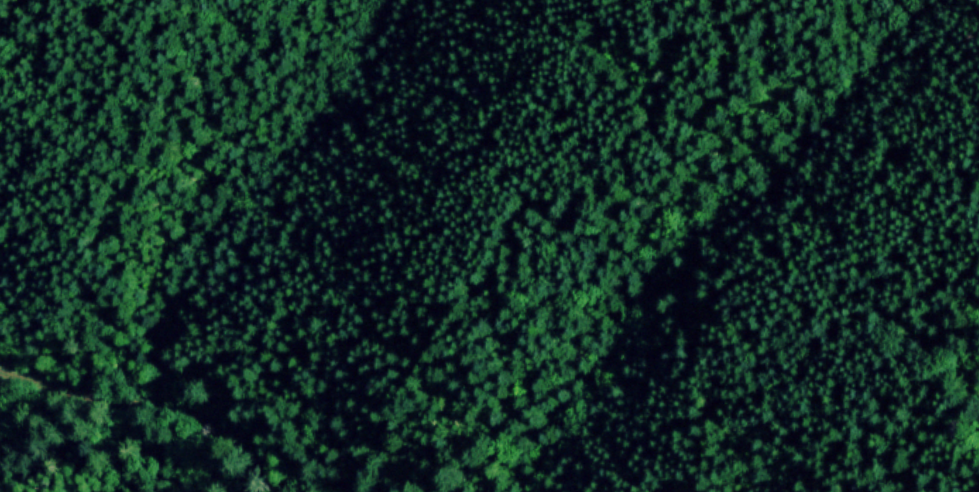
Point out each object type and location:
road: (154, 403)

